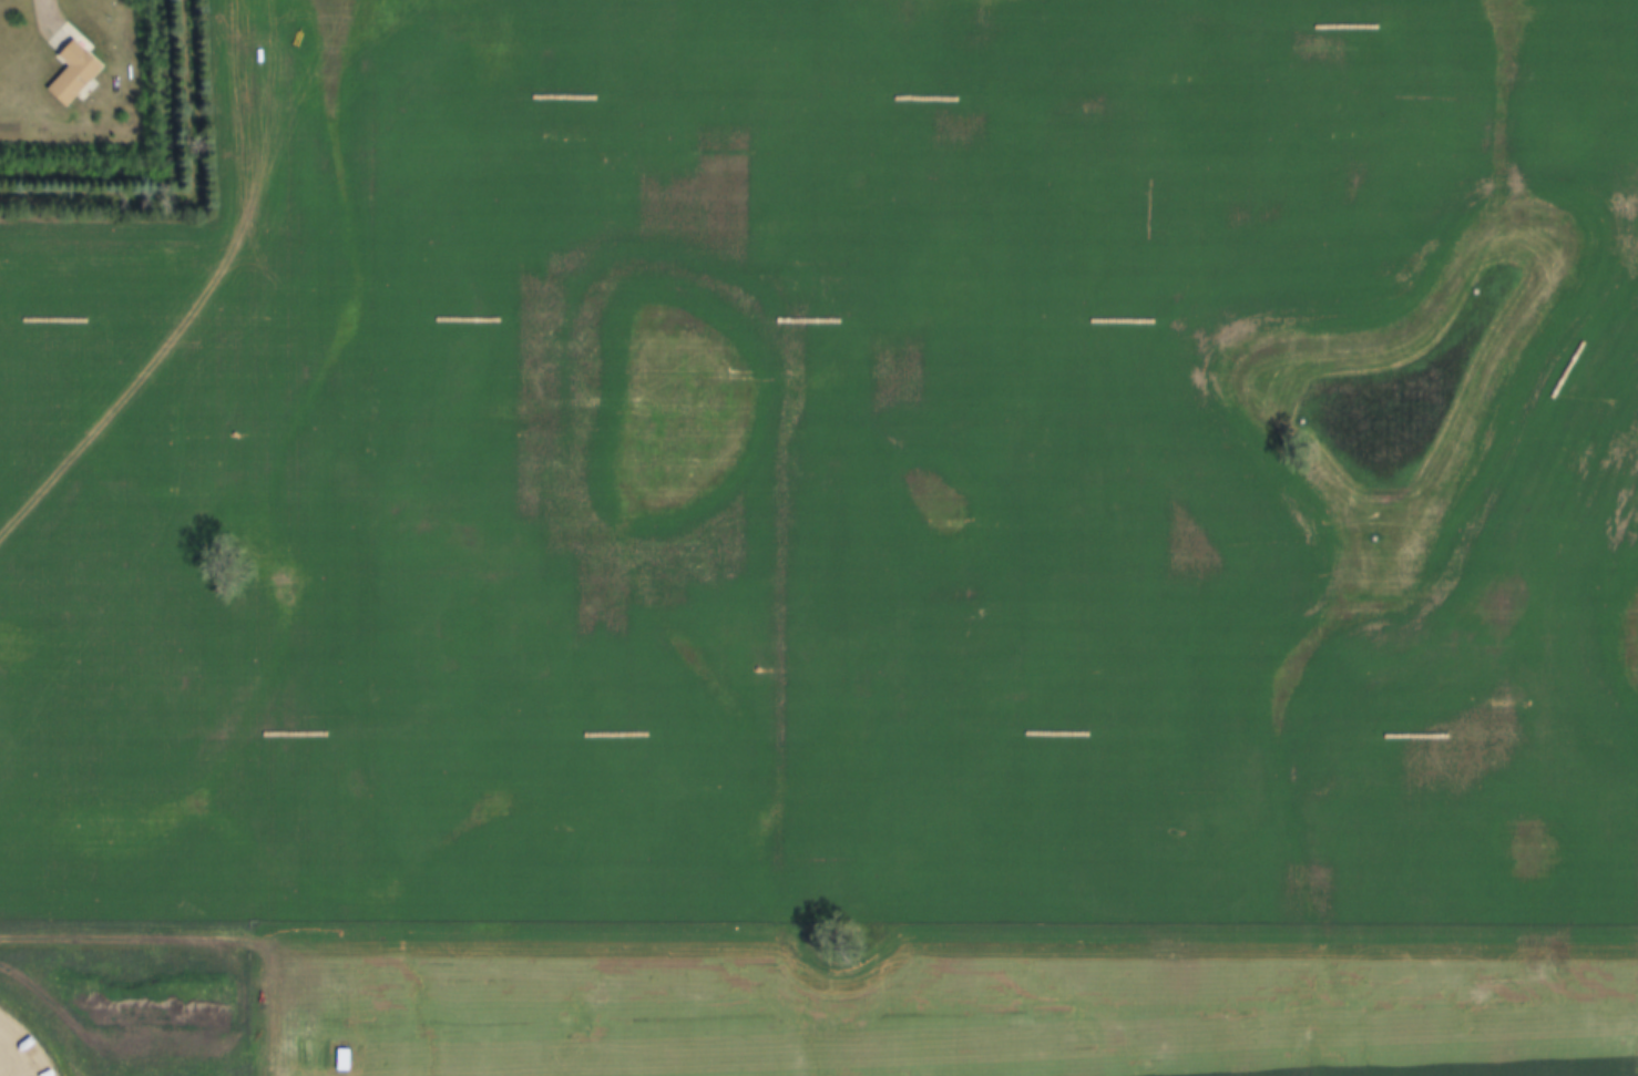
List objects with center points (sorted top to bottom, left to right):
road: (75, 33)
building: (72, 74)

